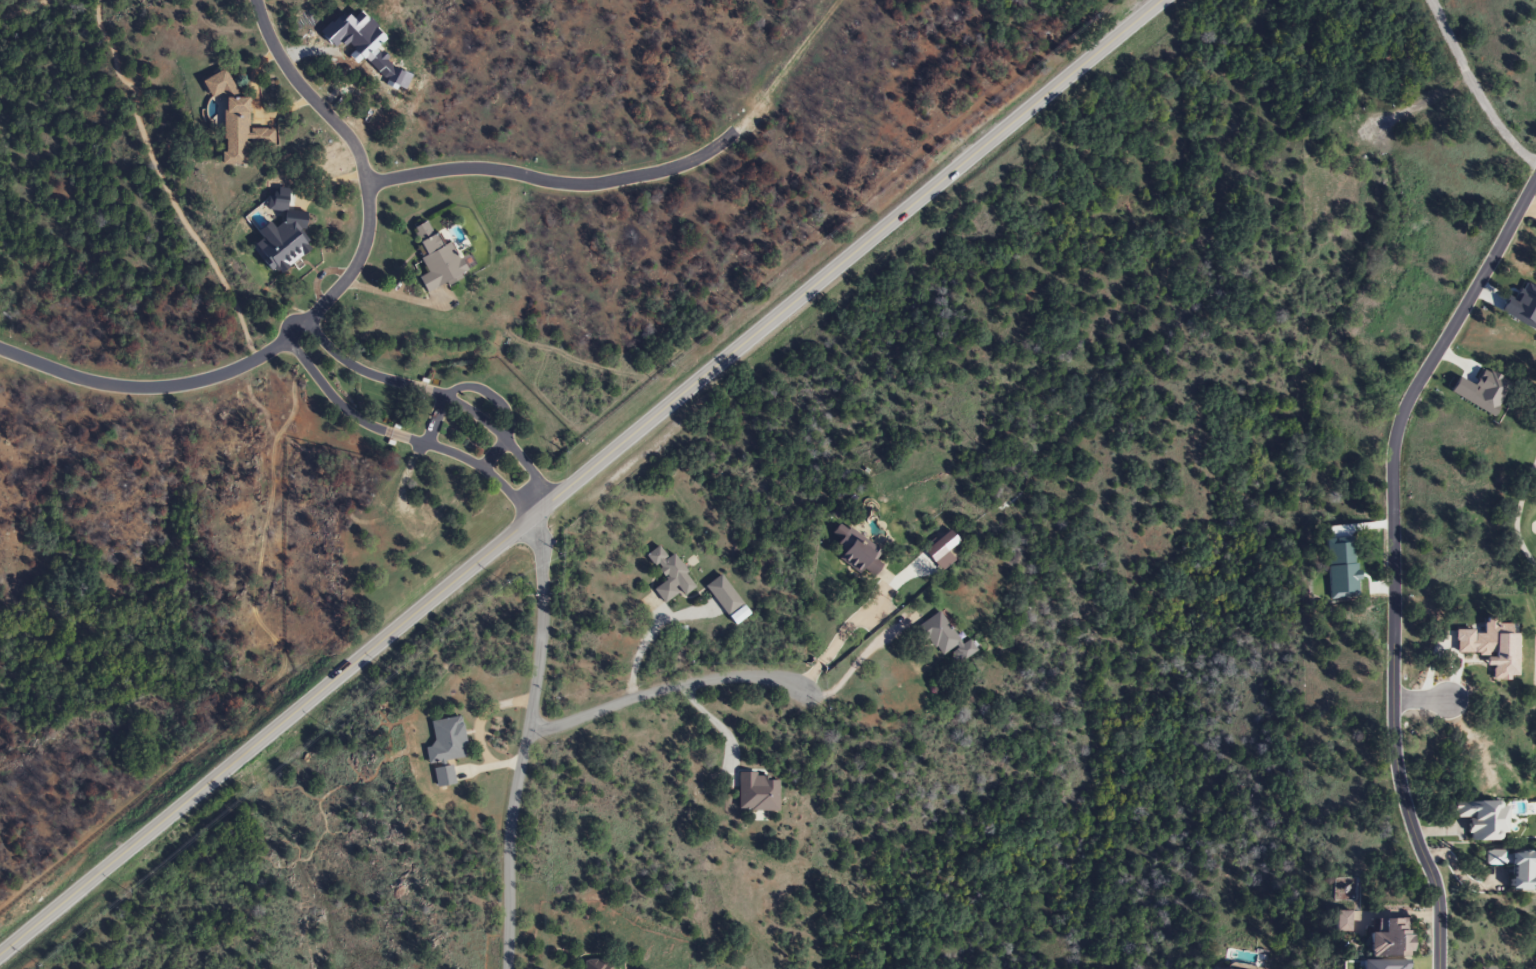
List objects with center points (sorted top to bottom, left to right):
road: (1474, 87)
building: (233, 120)
road: (359, 162)
road: (555, 181)
building: (281, 243)
building: (433, 260)
road: (151, 388)
road: (580, 476)
road: (544, 504)
park: (1526, 517)
building: (856, 554)
road: (1392, 558)
building: (668, 575)
building: (721, 594)
road: (540, 625)
building: (943, 637)
road: (668, 686)
road: (1420, 699)
building: (443, 740)
building: (441, 775)
building: (755, 791)
building: (1477, 818)
road: (508, 849)
building: (1512, 866)
building: (1341, 921)
building: (1385, 937)
building: (596, 963)

